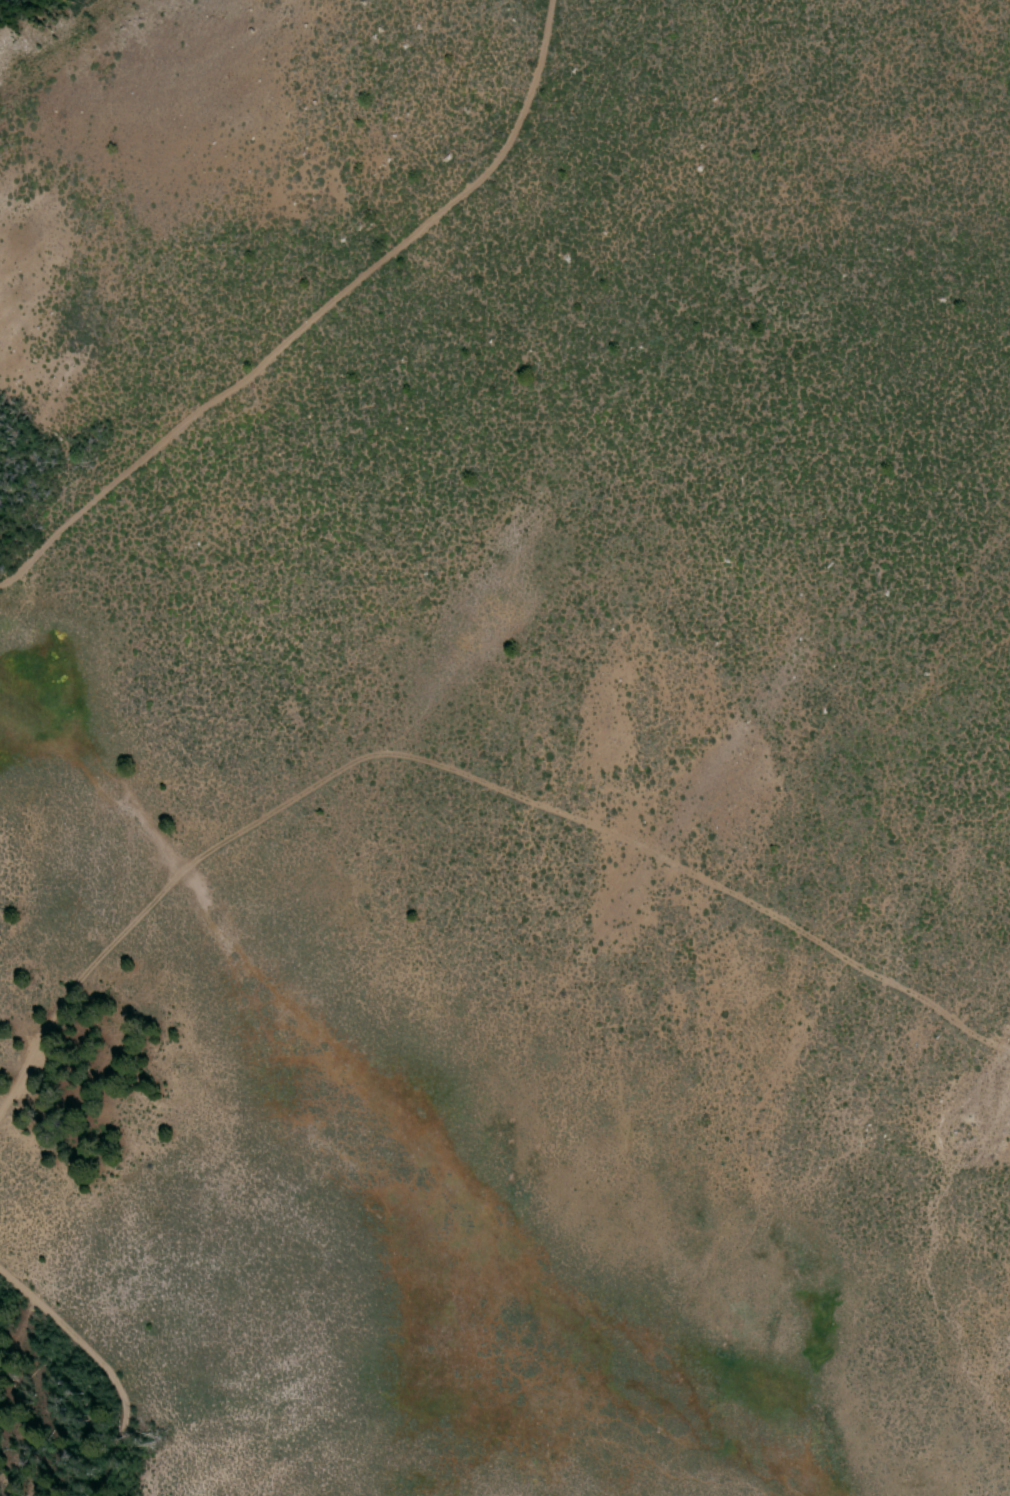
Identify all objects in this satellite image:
road: (317, 321)
road: (455, 768)
road: (100, 1365)

